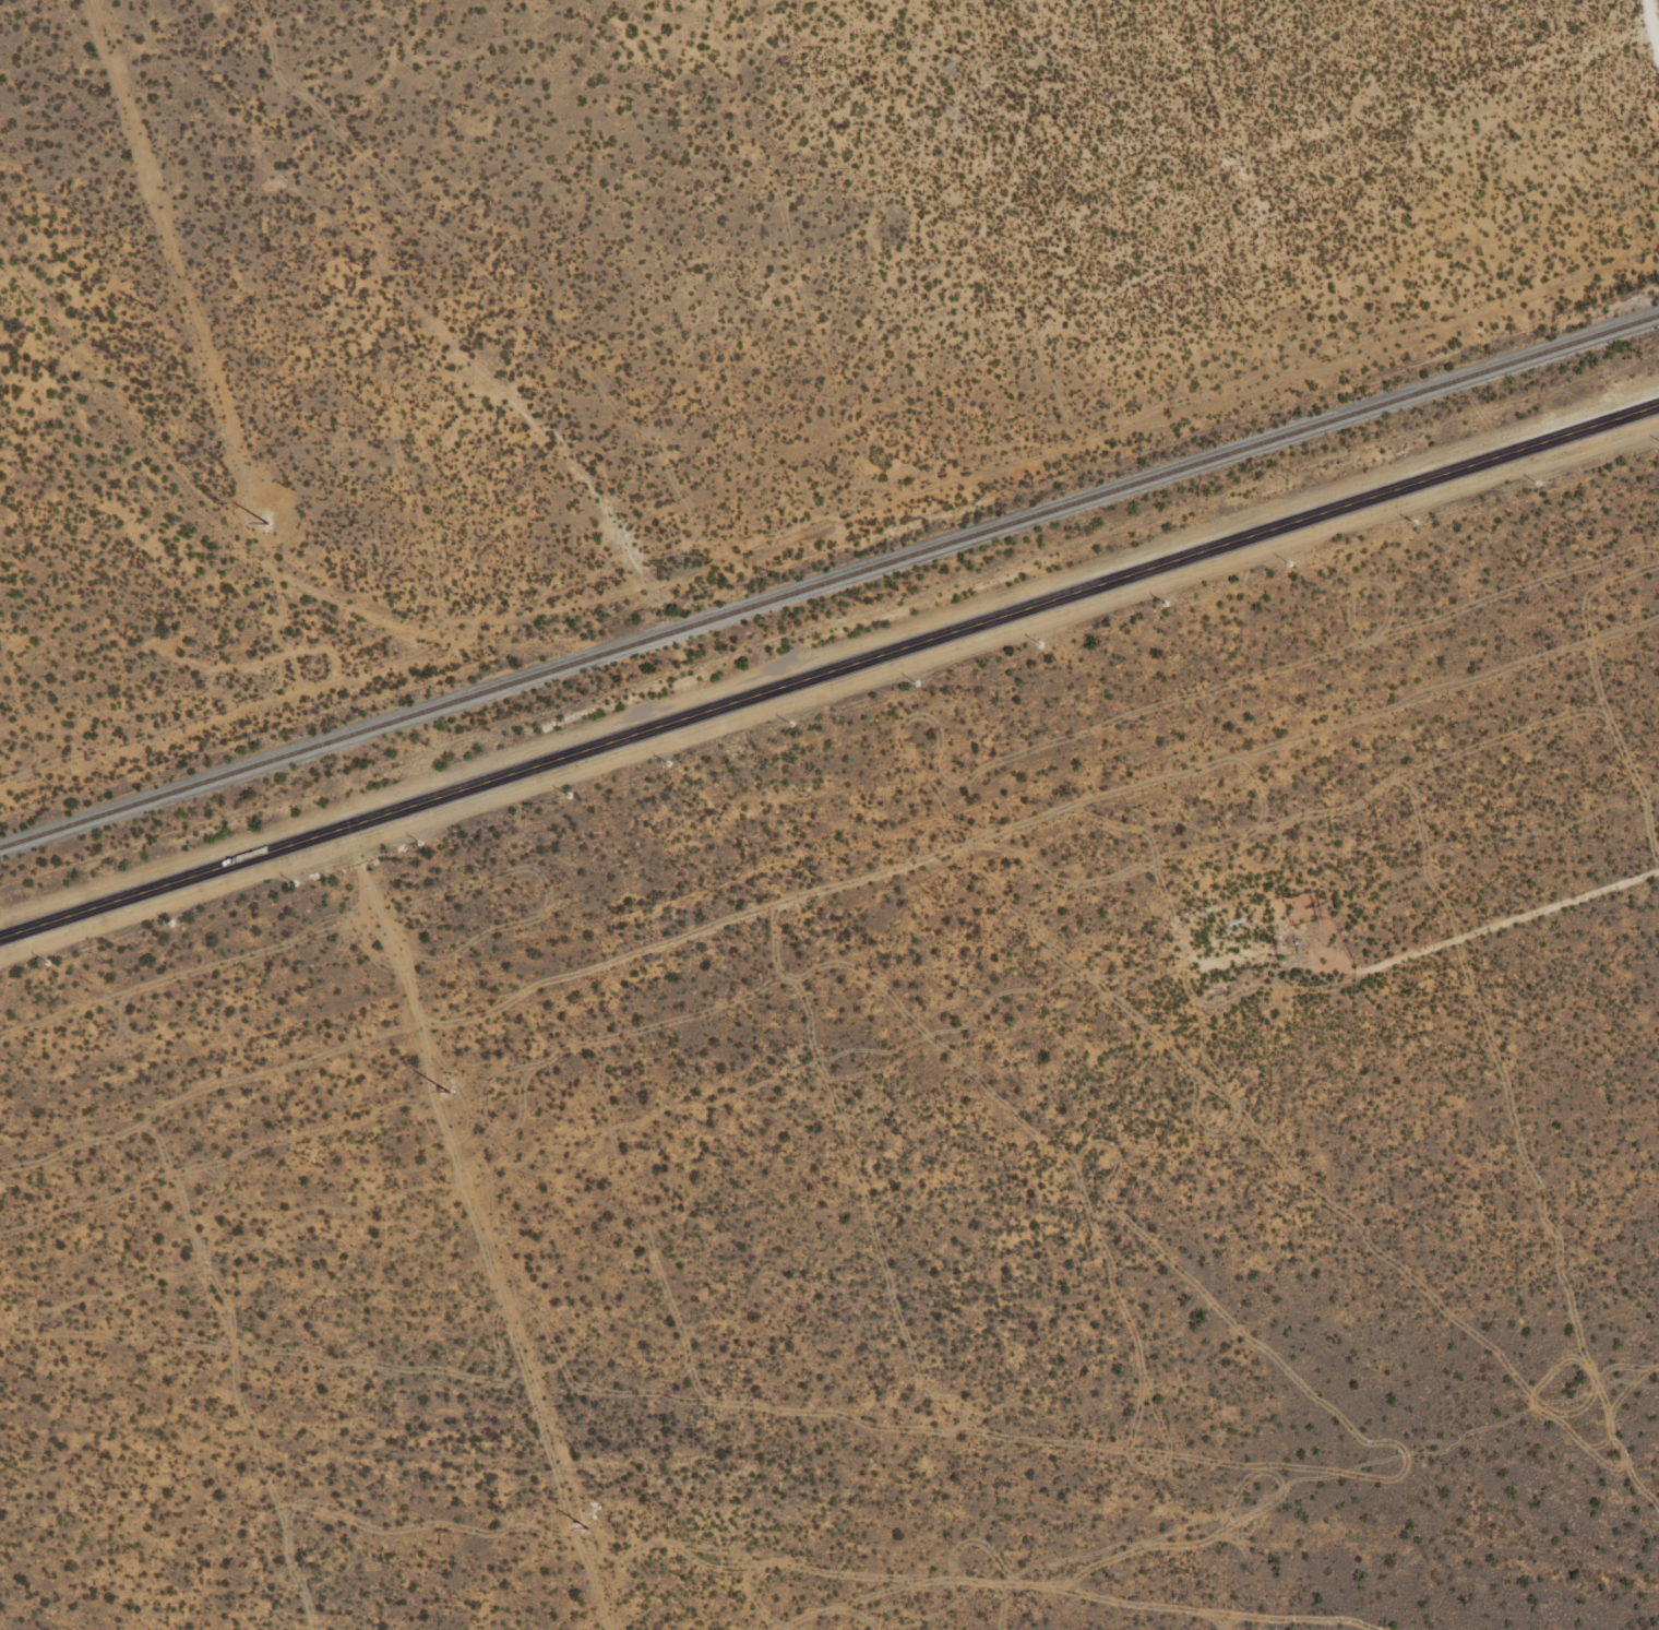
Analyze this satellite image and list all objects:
railway: (828, 581)
road: (829, 674)
road: (1457, 941)

